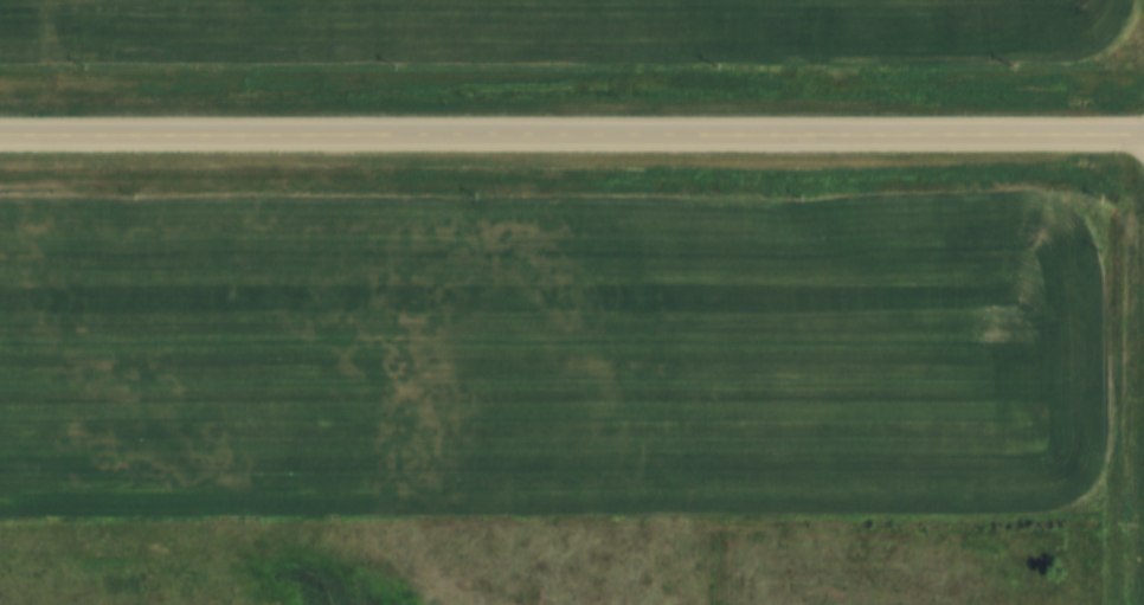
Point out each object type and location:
road: (571, 135)

